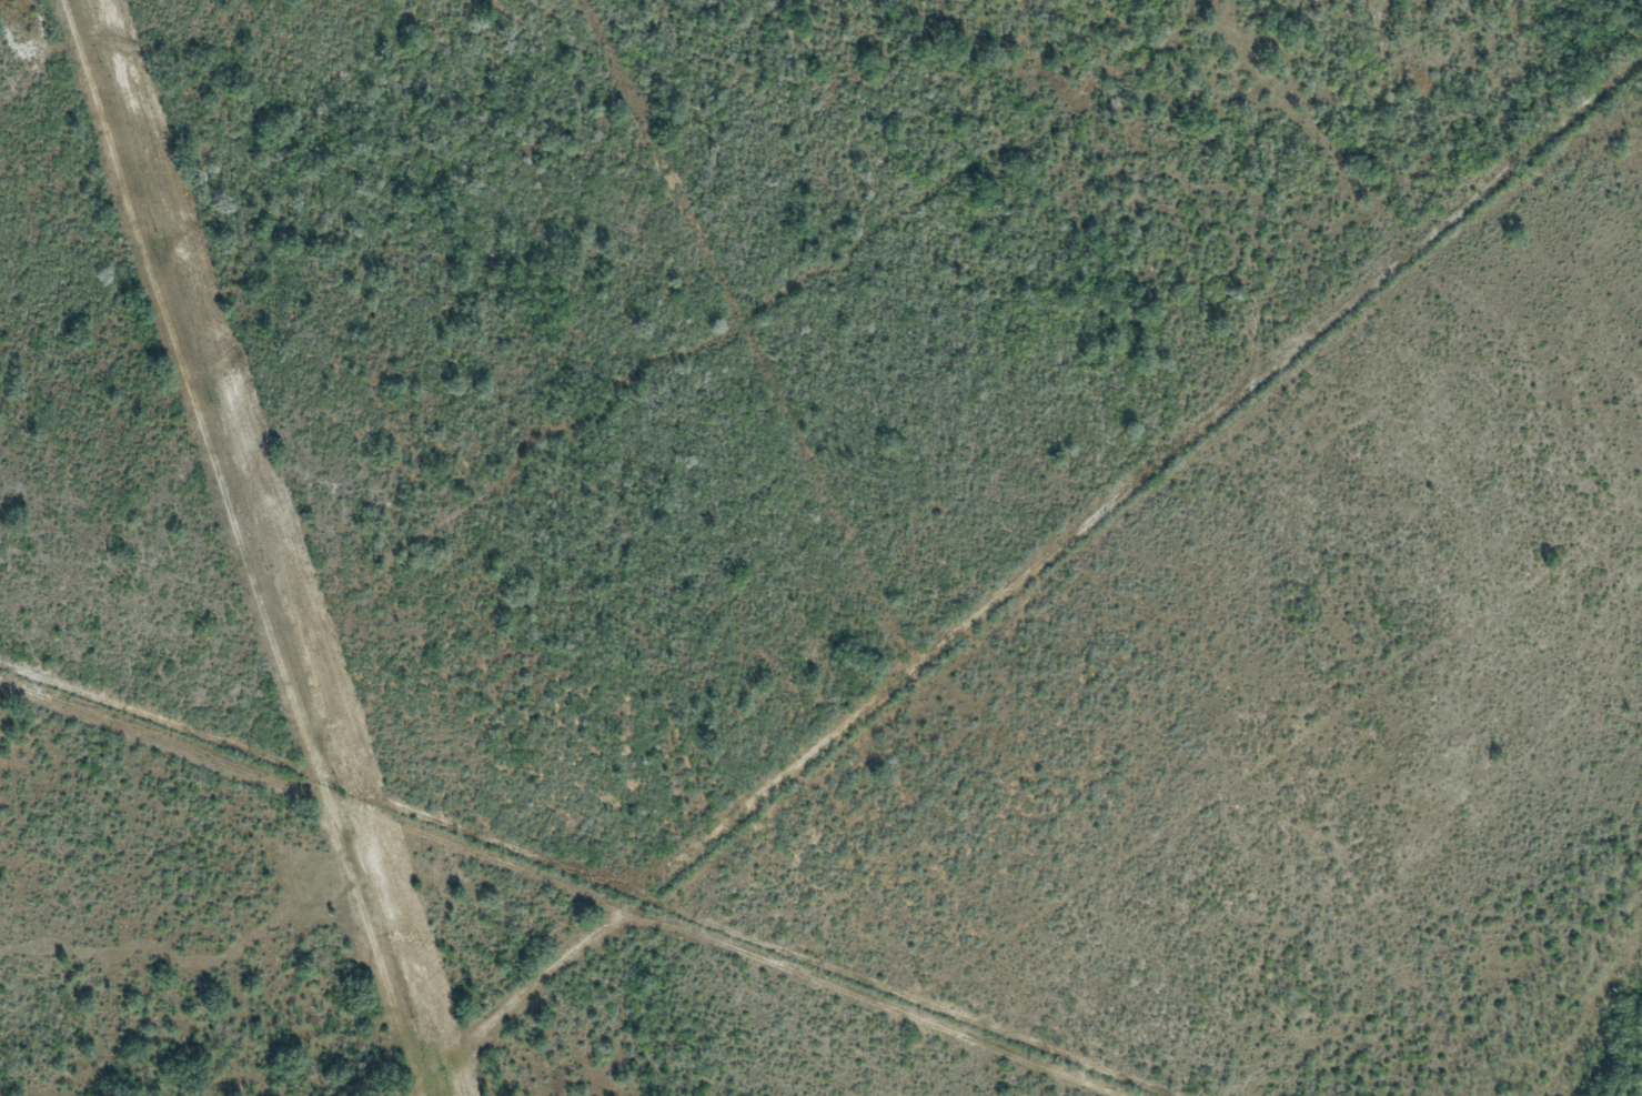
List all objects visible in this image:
road: (1139, 477)
road: (754, 942)

